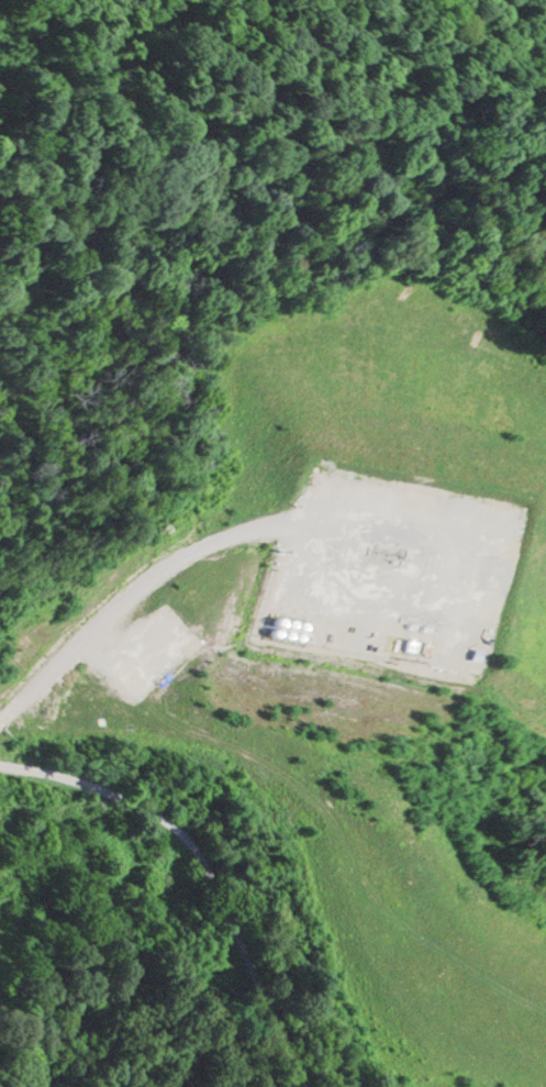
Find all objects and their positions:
building: (36, 822)
road: (204, 868)

